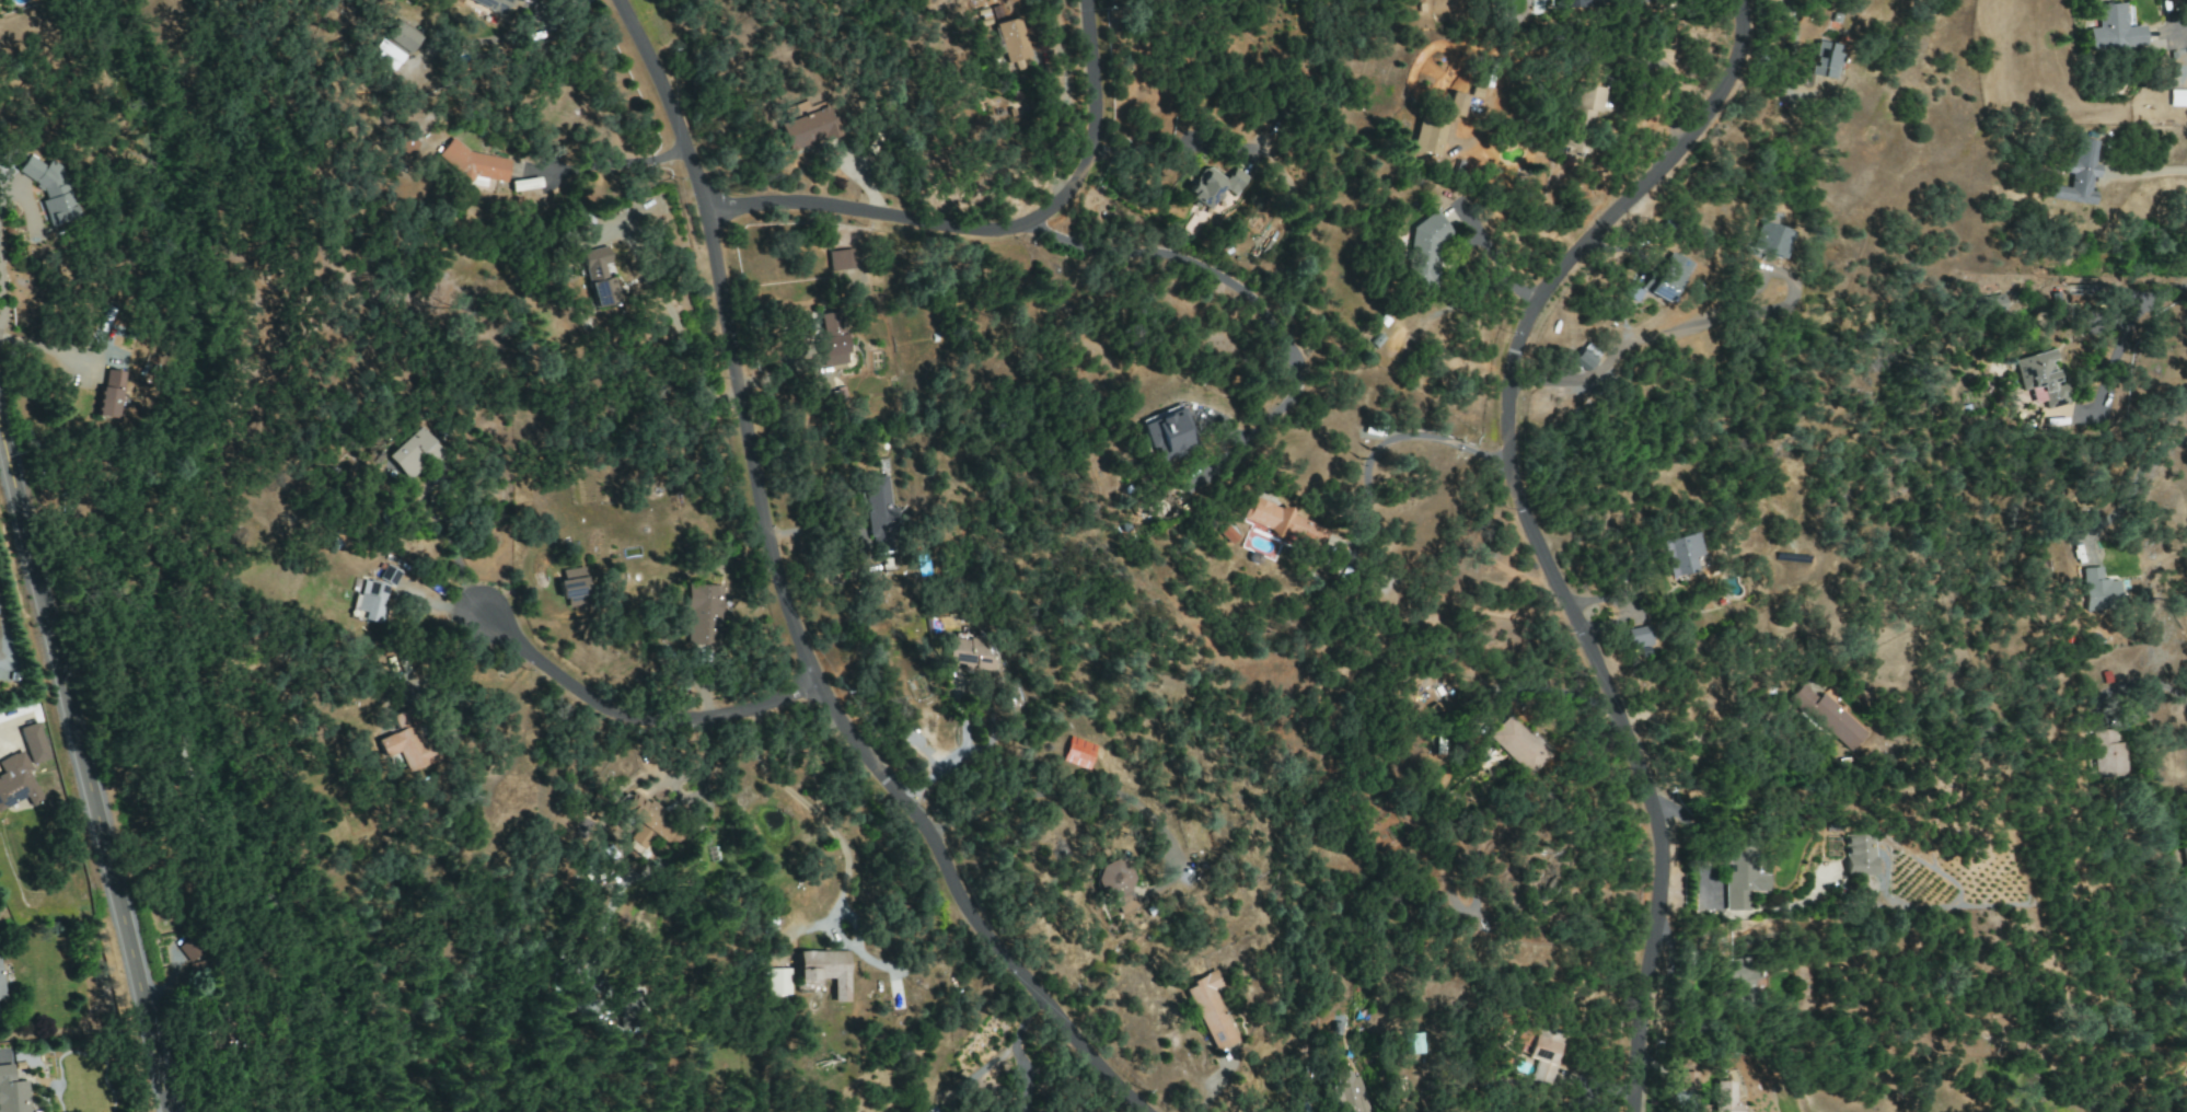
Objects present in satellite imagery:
building: (1570, 3)
building: (490, 5)
road: (2178, 25)
building: (2113, 28)
building: (400, 37)
building: (1015, 39)
building: (385, 54)
building: (1822, 59)
building: (2177, 99)
building: (1583, 101)
building: (1456, 104)
building: (809, 129)
building: (1427, 137)
building: (406, 144)
building: (473, 163)
road: (609, 164)
road: (2152, 171)
building: (2078, 174)
building: (1214, 186)
building: (43, 189)
road: (1, 190)
road: (999, 227)
building: (1770, 240)
building: (1422, 253)
building: (842, 259)
building: (598, 277)
building: (1664, 277)
road: (1224, 279)
building: (1992, 304)
road: (2129, 328)
building: (831, 339)
building: (1584, 357)
building: (2039, 379)
building: (1165, 431)
road: (1396, 435)
building: (409, 453)
road: (2137, 471)
building: (879, 516)
building: (1283, 523)
road: (1528, 530)
building: (1227, 534)
building: (1679, 554)
road: (453, 561)
building: (387, 575)
building: (572, 588)
building: (2098, 590)
building: (369, 600)
road: (788, 609)
building: (703, 614)
building: (1640, 637)
building: (969, 653)
road: (2145, 684)
road: (635, 709)
building: (1825, 717)
building: (32, 743)
building: (1514, 745)
building: (403, 748)
road: (739, 751)
building: (1077, 753)
building: (2107, 754)
road: (952, 760)
road: (83, 765)
building: (15, 781)
road: (1066, 790)
road: (822, 819)
building: (645, 823)
building: (2185, 852)
building: (1858, 855)
building: (1740, 877)
building: (1112, 878)
building: (2184, 931)
building: (193, 950)
building: (824, 970)
building: (1740, 980)
building: (778, 982)
building: (0, 984)
building: (1211, 1010)
building: (1526, 1040)
building: (1542, 1055)
building: (1690, 1080)
building: (11, 1092)
building: (1724, 1097)
road: (1145, 1102)

